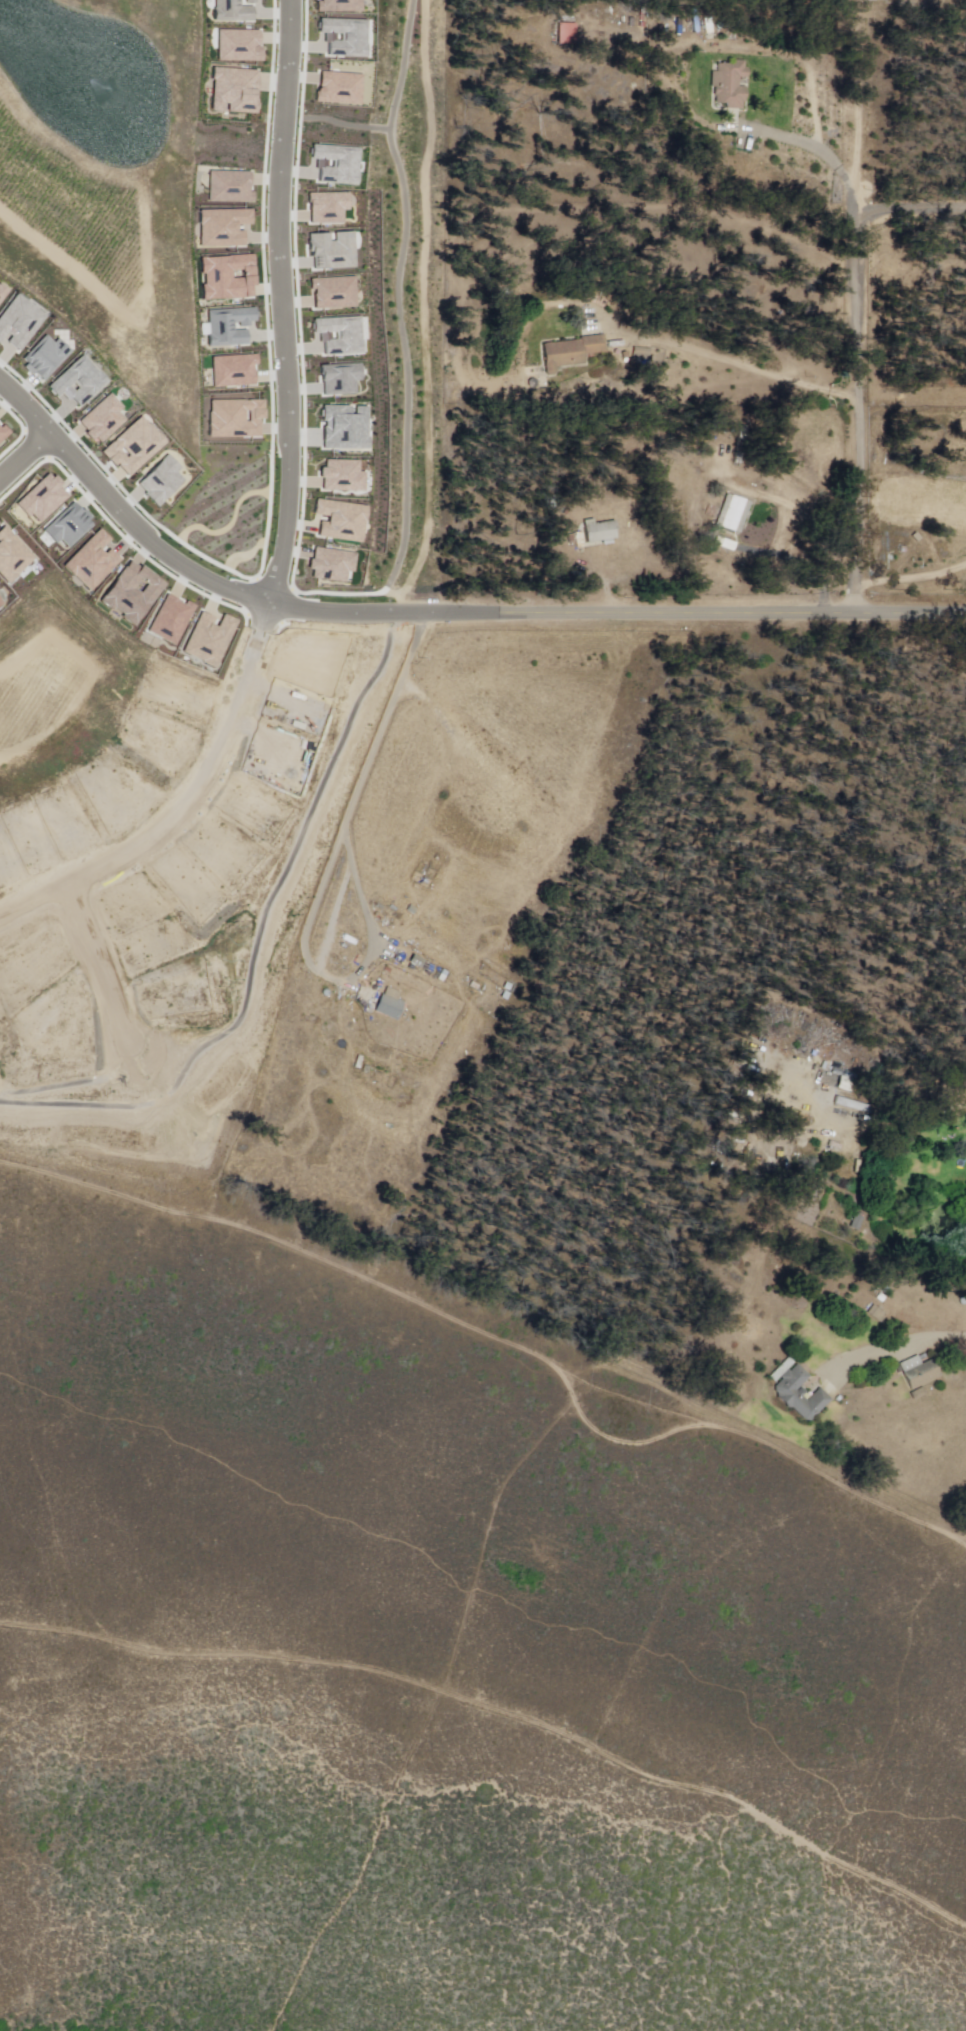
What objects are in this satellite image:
building: (337, 5)
building: (236, 10)
building: (566, 35)
building: (345, 36)
building: (239, 45)
building: (729, 86)
building: (339, 88)
building: (235, 89)
road: (813, 148)
building: (336, 162)
building: (230, 186)
building: (328, 207)
road: (910, 211)
building: (224, 227)
building: (333, 249)
building: (228, 277)
building: (332, 291)
building: (2, 292)
road: (290, 302)
road: (424, 309)
building: (18, 322)
building: (230, 326)
building: (339, 335)
building: (570, 354)
building: (48, 356)
road: (747, 363)
building: (236, 369)
building: (340, 378)
building: (79, 382)
road: (867, 400)
building: (103, 418)
building: (237, 418)
building: (344, 428)
building: (739, 444)
building: (135, 446)
road: (25, 457)
building: (343, 476)
building: (163, 481)
building: (734, 514)
building: (338, 521)
building: (597, 529)
road: (170, 553)
road: (810, 559)
road: (620, 580)
road: (683, 612)
road: (354, 790)
building: (416, 961)
building: (390, 1004)
building: (876, 1314)
road: (897, 1345)
building: (918, 1375)
building: (799, 1394)

